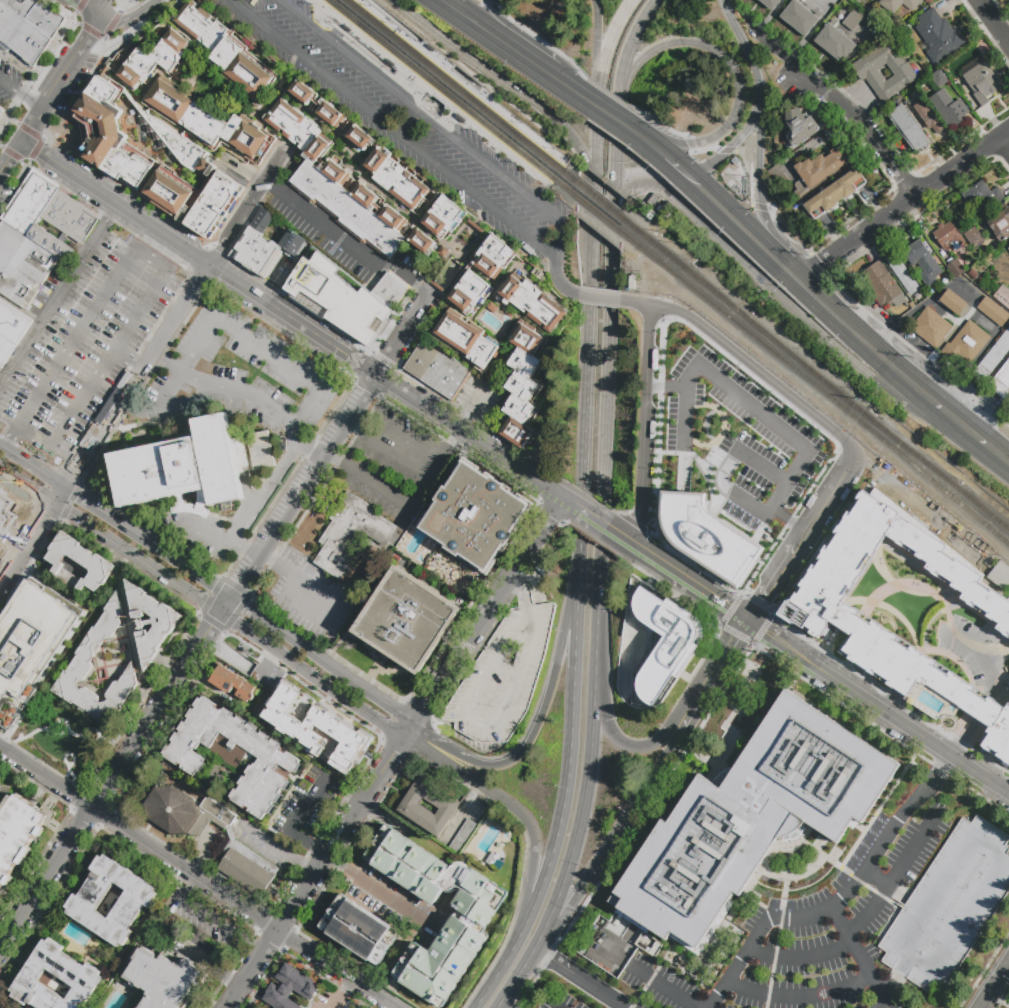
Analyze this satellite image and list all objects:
road: (158, 1)
building: (929, 1)
building: (770, 3)
road: (137, 4)
street lamp: (313, 4)
road: (79, 5)
road: (147, 5)
street lamp: (371, 5)
road: (491, 5)
road: (103, 6)
road: (116, 6)
building: (899, 6)
road: (91, 7)
road: (151, 7)
parking lot: (132, 8)
building: (865, 8)
building: (846, 12)
road: (118, 13)
road: (125, 13)
road: (71, 16)
road: (322, 18)
building: (800, 19)
building: (854, 19)
road: (124, 20)
road: (394, 20)
road: (994, 21)
road: (140, 23)
street lamp: (392, 23)
road: (75, 24)
building: (204, 24)
street lamp: (339, 24)
road: (110, 25)
road: (327, 26)
building: (29, 28)
road: (88, 31)
road: (91, 31)
building: (938, 36)
road: (332, 37)
road: (496, 37)
road: (517, 38)
road: (356, 41)
building: (835, 41)
road: (544, 42)
road: (105, 43)
street lamp: (365, 45)
road: (745, 46)
road: (608, 48)
building: (171, 50)
road: (597, 50)
road: (780, 53)
building: (246, 66)
road: (38, 67)
street lamp: (395, 68)
building: (139, 69)
building: (867, 69)
road: (737, 77)
road: (57, 78)
road: (586, 78)
building: (939, 78)
building: (981, 81)
parking lot: (9, 83)
road: (399, 83)
railway: (459, 83)
road: (9, 86)
road: (510, 86)
road: (568, 86)
road: (598, 87)
railway: (457, 90)
railway: (433, 93)
railway: (447, 94)
road: (480, 94)
street lamp: (429, 95)
road: (77, 96)
road: (620, 98)
road: (28, 99)
road: (618, 100)
building: (927, 102)
building: (949, 108)
road: (3, 109)
street lamp: (449, 110)
building: (1, 112)
road: (608, 114)
building: (927, 117)
road: (3, 118)
road: (11, 120)
road: (657, 120)
road: (29, 122)
building: (99, 122)
building: (206, 122)
road: (409, 123)
street lamp: (521, 123)
parking lot: (408, 125)
building: (799, 126)
road: (866, 127)
building: (909, 129)
building: (299, 131)
road: (28, 132)
street lamp: (476, 132)
road: (646, 141)
road: (1005, 141)
road: (734, 143)
road: (689, 144)
building: (177, 145)
road: (0, 147)
road: (35, 149)
street lamp: (554, 149)
road: (706, 149)
road: (728, 151)
road: (9, 154)
road: (10, 154)
building: (736, 161)
street lamp: (516, 163)
road: (22, 164)
road: (675, 164)
building: (127, 169)
building: (389, 169)
building: (820, 170)
road: (751, 176)
building: (779, 178)
road: (760, 182)
road: (16, 186)
building: (169, 191)
building: (835, 193)
building: (983, 195)
building: (30, 201)
building: (652, 201)
road: (247, 205)
building: (352, 205)
road: (903, 205)
building: (214, 206)
road: (760, 207)
railway: (608, 211)
building: (70, 217)
railway: (603, 217)
road: (735, 221)
building: (1001, 225)
road: (331, 228)
road: (782, 233)
building: (948, 237)
building: (974, 237)
building: (423, 242)
building: (263, 246)
road: (545, 249)
building: (1008, 249)
building: (443, 251)
building: (1008, 251)
road: (199, 257)
building: (27, 262)
building: (921, 262)
building: (955, 268)
road: (821, 269)
road: (790, 274)
building: (468, 275)
building: (903, 276)
road: (558, 278)
road: (252, 282)
building: (631, 283)
building: (884, 288)
building: (389, 291)
road: (58, 292)
building: (1003, 295)
road: (599, 298)
building: (530, 301)
building: (765, 301)
building: (954, 303)
building: (341, 304)
building: (492, 308)
road: (19, 309)
building: (993, 312)
road: (801, 318)
building: (13, 323)
building: (931, 328)
road: (858, 336)
road: (405, 337)
building: (466, 341)
building: (966, 343)
road: (199, 345)
building: (6, 350)
road: (586, 350)
road: (922, 357)
building: (992, 358)
road: (167, 361)
road: (747, 362)
road: (286, 364)
building: (436, 371)
road: (136, 376)
building: (1002, 381)
railway: (826, 384)
road: (394, 385)
building: (522, 386)
road: (170, 388)
road: (666, 388)
railway: (825, 394)
road: (238, 396)
road: (173, 403)
road: (421, 404)
road: (750, 404)
road: (469, 410)
road: (643, 415)
road: (446, 421)
road: (964, 426)
road: (360, 430)
road: (464, 434)
road: (403, 435)
parking lot: (745, 440)
road: (302, 445)
road: (487, 449)
building: (260, 450)
road: (239, 451)
road: (458, 457)
road: (401, 459)
road: (335, 461)
road: (320, 463)
parking lot: (394, 464)
building: (178, 469)
road: (765, 469)
road: (434, 470)
road: (727, 476)
road: (534, 481)
road: (377, 488)
road: (263, 492)
road: (829, 494)
road: (586, 515)
building: (9, 516)
parking garage: (9, 516)
building: (475, 517)
power substation: (935, 517)
road: (789, 520)
building: (349, 533)
road: (204, 534)
road: (543, 534)
road: (632, 534)
road: (618, 536)
building: (711, 536)
road: (32, 537)
road: (802, 538)
road: (11, 550)
building: (79, 561)
road: (601, 567)
road: (517, 573)
building: (1000, 575)
road: (246, 576)
road: (688, 582)
road: (207, 583)
road: (536, 583)
road: (773, 583)
road: (522, 595)
parking lot: (312, 598)
road: (201, 602)
road: (332, 605)
building: (408, 620)
traffic signals: (749, 621)
building: (151, 622)
building: (860, 626)
road: (783, 637)
building: (31, 640)
road: (135, 644)
road: (777, 645)
building: (662, 646)
road: (493, 648)
road: (64, 651)
parking lot: (971, 657)
building: (84, 658)
road: (458, 658)
building: (242, 659)
road: (714, 672)
building: (500, 675)
parking garage: (500, 675)
building: (268, 676)
building: (231, 683)
road: (987, 688)
building: (287, 695)
building: (311, 708)
building: (259, 716)
road: (892, 716)
road: (65, 723)
road: (480, 723)
fountain: (945, 726)
building: (282, 729)
road: (887, 733)
road: (61, 734)
road: (531, 737)
road: (624, 743)
building: (232, 754)
building: (338, 754)
road: (73, 760)
road: (570, 760)
road: (659, 768)
building: (810, 769)
road: (939, 773)
road: (67, 774)
road: (114, 774)
road: (985, 778)
road: (68, 783)
road: (1003, 790)
road: (353, 799)
road: (507, 802)
building: (410, 806)
road: (307, 807)
road: (860, 829)
building: (16, 832)
building: (463, 838)
building: (231, 841)
road: (271, 845)
road: (318, 853)
building: (490, 859)
road: (1004, 864)
building: (699, 865)
road: (591, 866)
road: (308, 869)
road: (844, 870)
road: (314, 872)
road: (895, 877)
road: (195, 878)
road: (863, 878)
road: (754, 881)
road: (192, 882)
road: (368, 886)
road: (888, 886)
building: (83, 900)
building: (950, 907)
parking garage: (950, 907)
road: (210, 917)
road: (9, 918)
building: (470, 921)
building: (359, 930)
parking lot: (812, 934)
road: (258, 948)
road: (859, 952)
road: (802, 958)
road: (504, 962)
road: (739, 963)
road: (774, 963)
road: (525, 966)
building: (76, 973)
road: (581, 978)
road: (653, 978)
building: (163, 979)
road: (994, 986)
building: (290, 988)
road: (665, 989)
road: (799, 997)
parking lot: (562, 1000)
road: (885, 1001)
building: (0, 1007)
building: (2, 1007)

